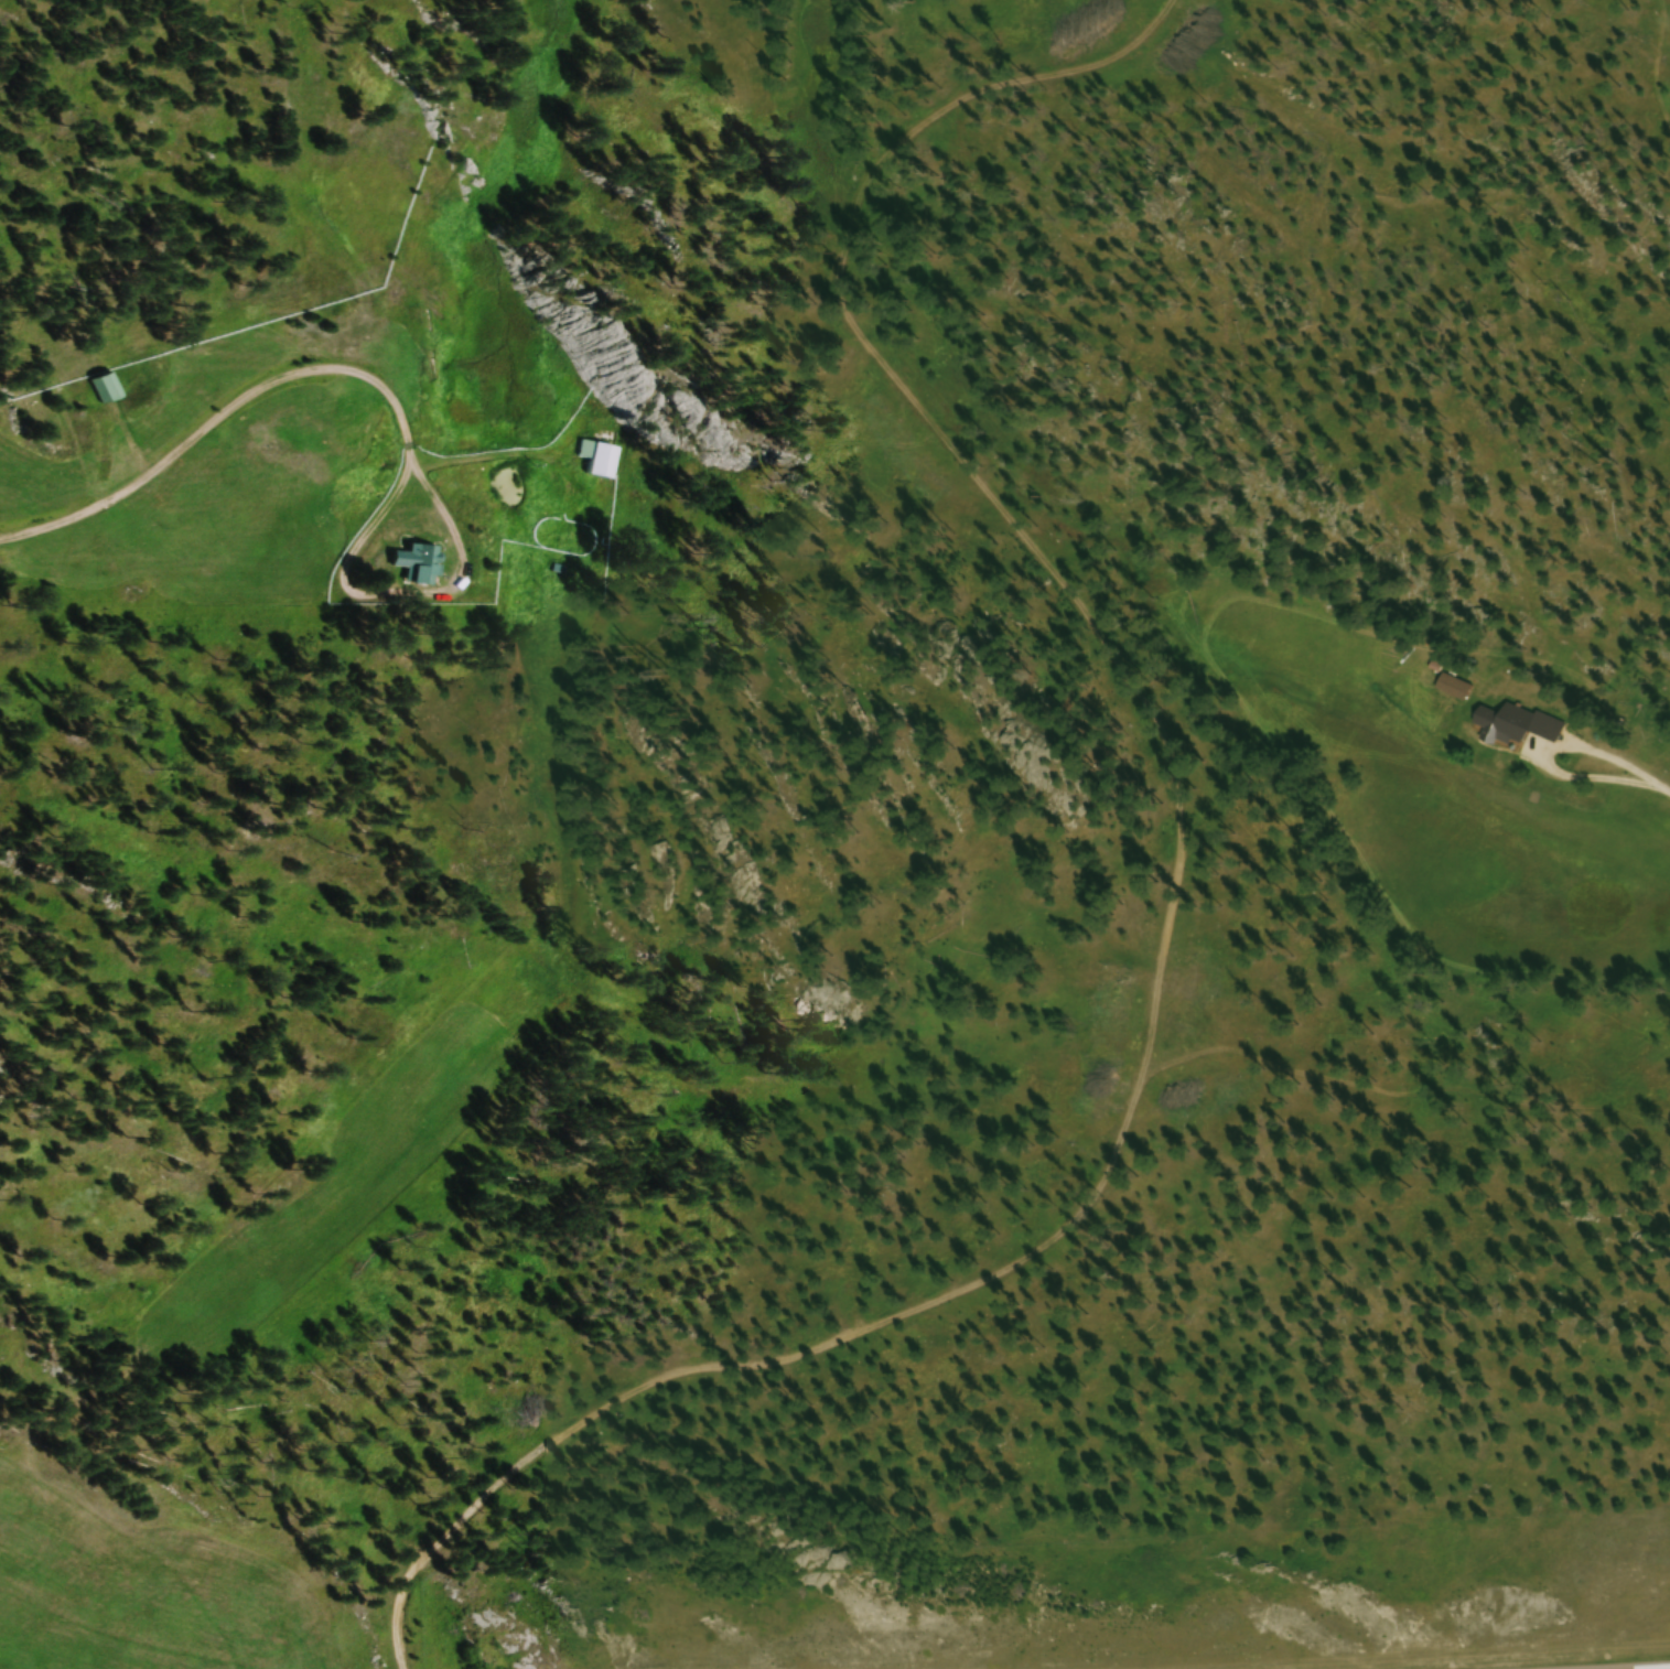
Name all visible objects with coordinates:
building: (108, 390)
building: (600, 463)
building: (417, 566)
building: (1517, 726)
road: (1164, 902)
airport: (1204, 1603)

